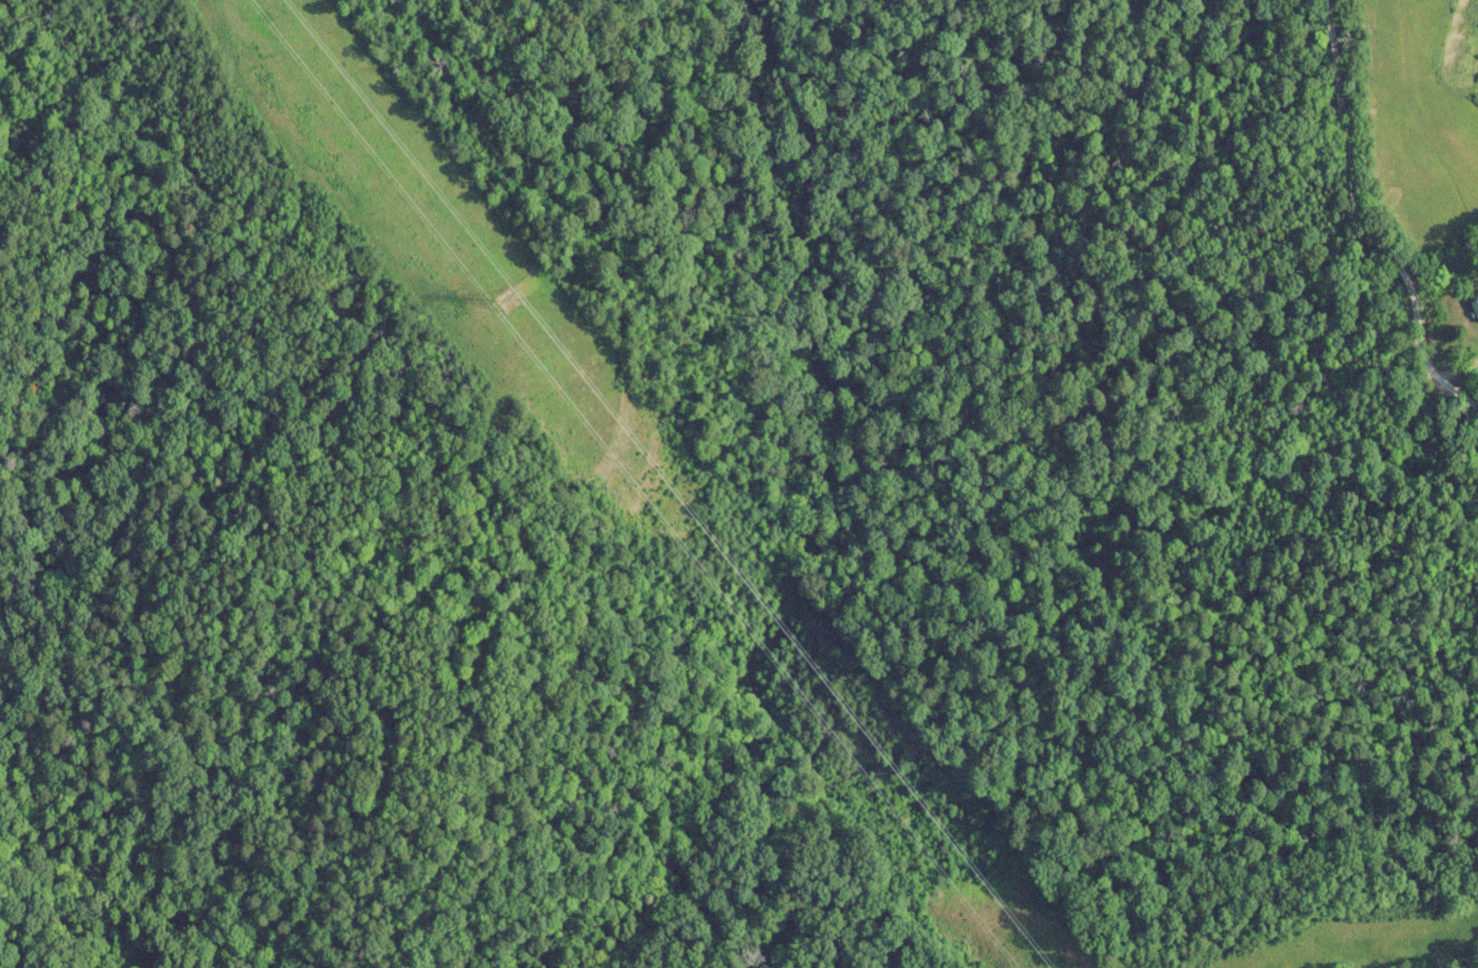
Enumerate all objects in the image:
road: (1406, 215)
building: (1475, 306)

